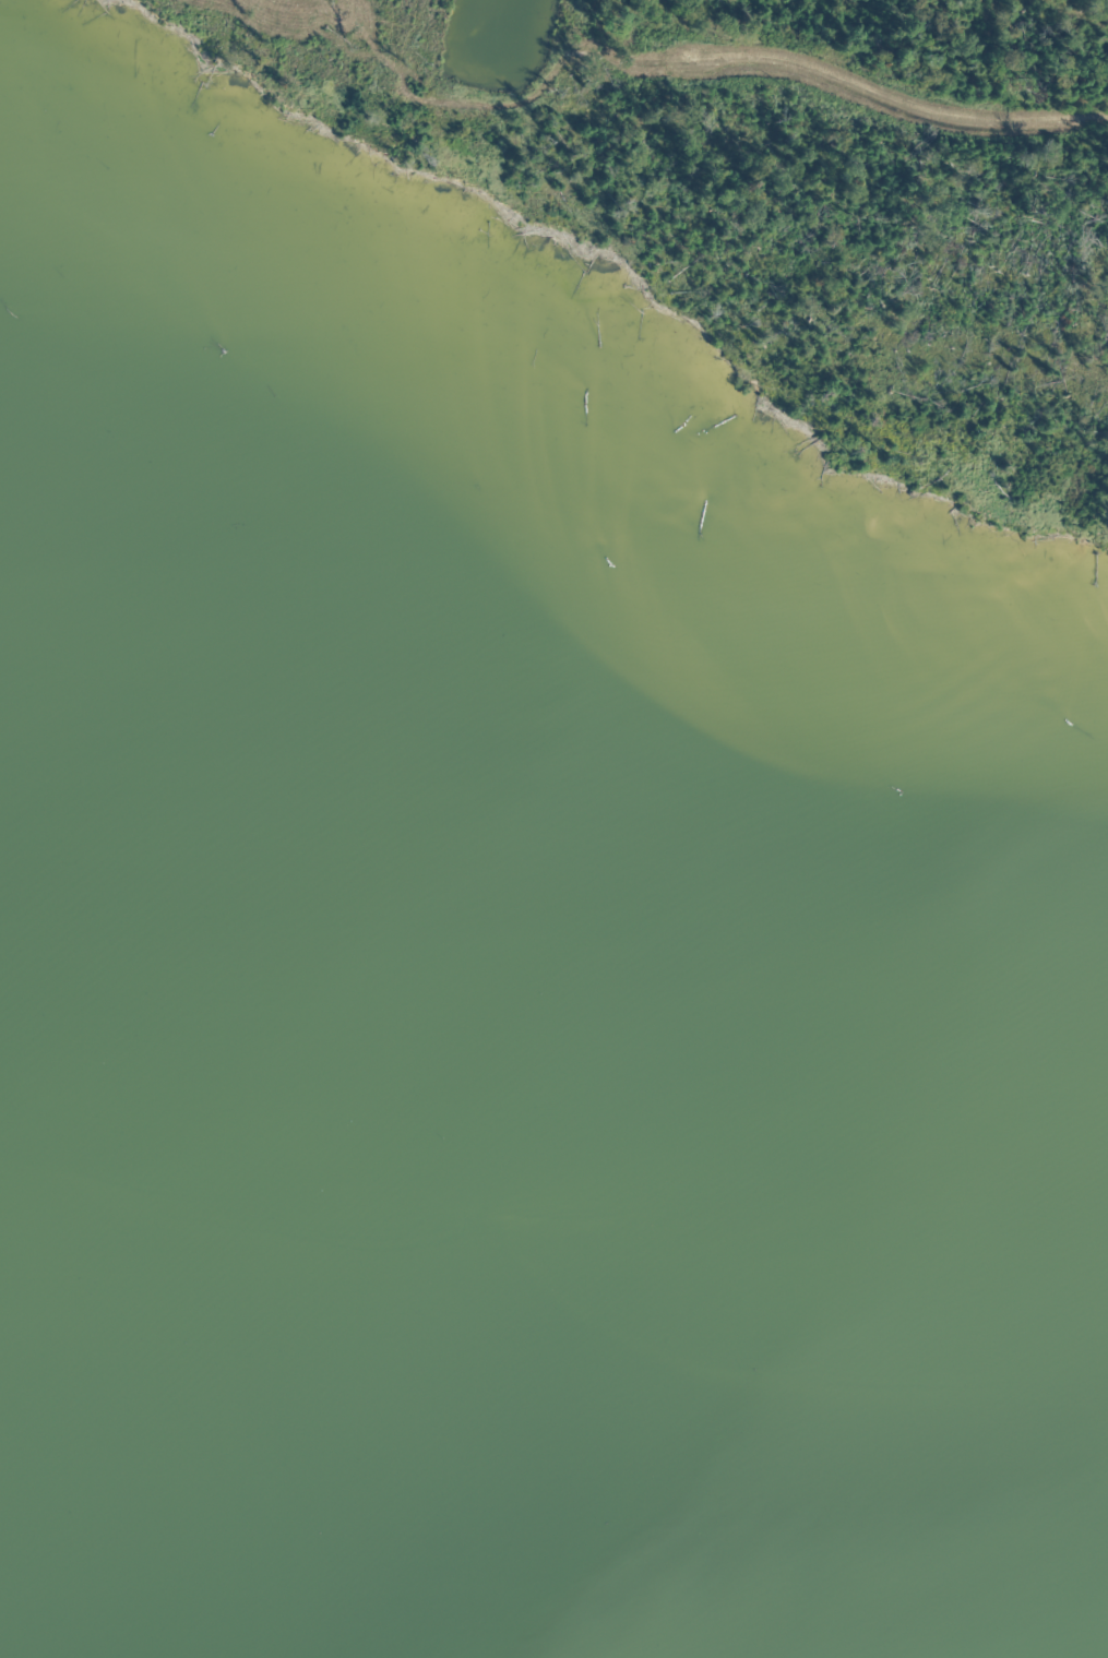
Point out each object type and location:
road: (283, 11)

